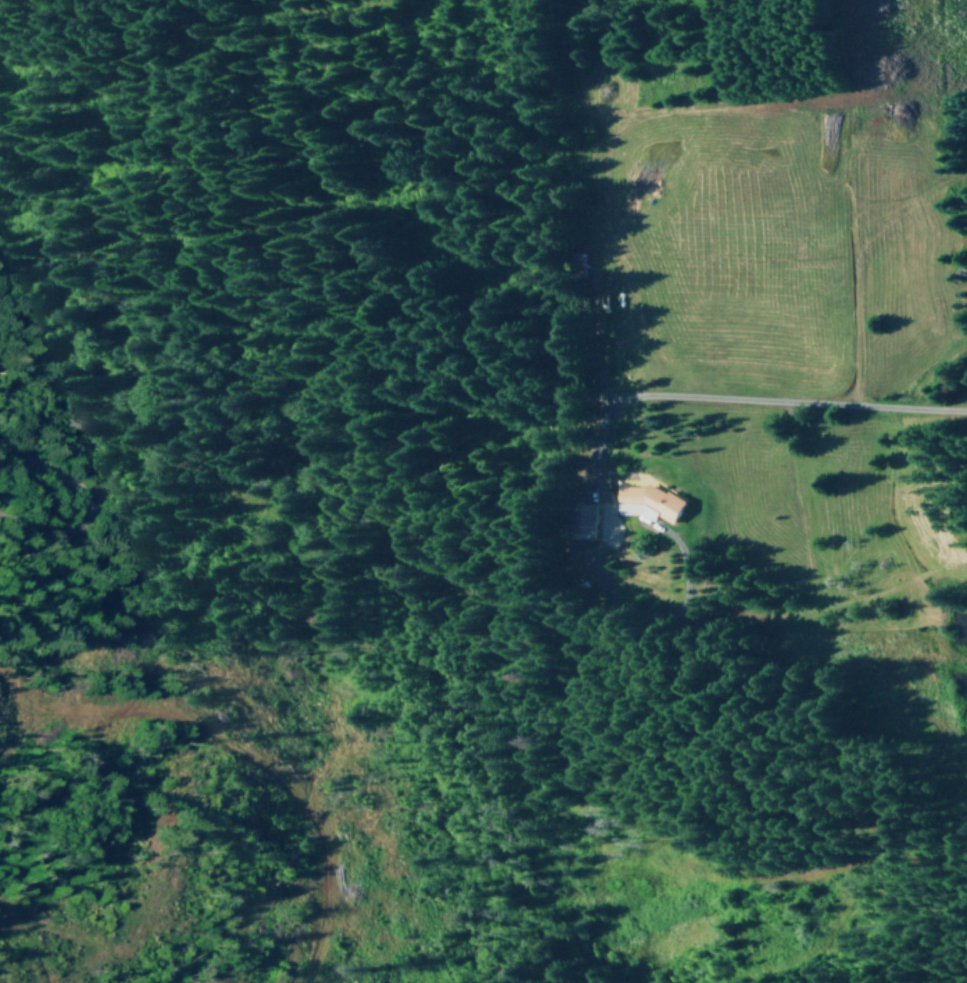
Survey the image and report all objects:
road: (930, 66)
building: (645, 501)
building: (577, 520)

